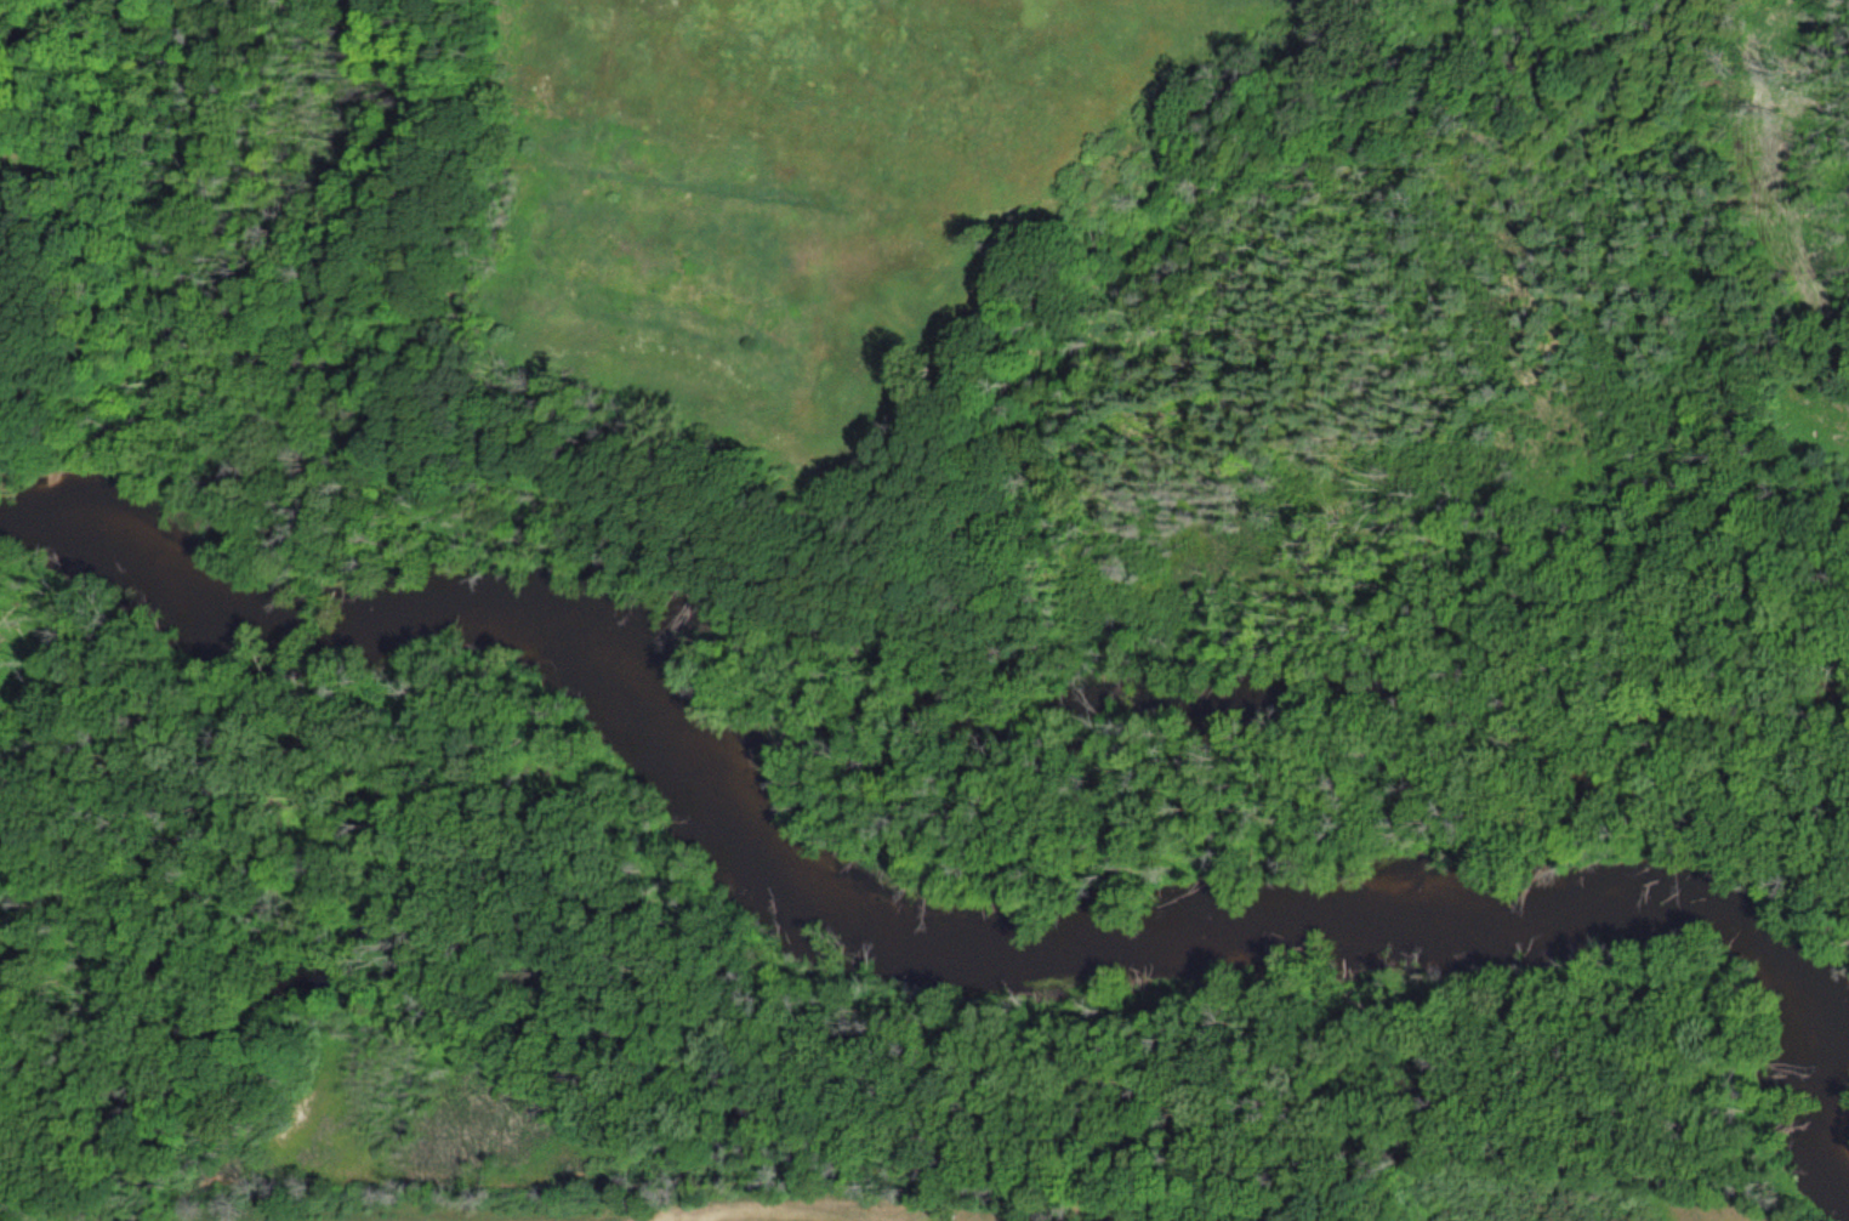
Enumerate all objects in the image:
road: (1312, 291)
river: (933, 954)
park: (584, 964)

